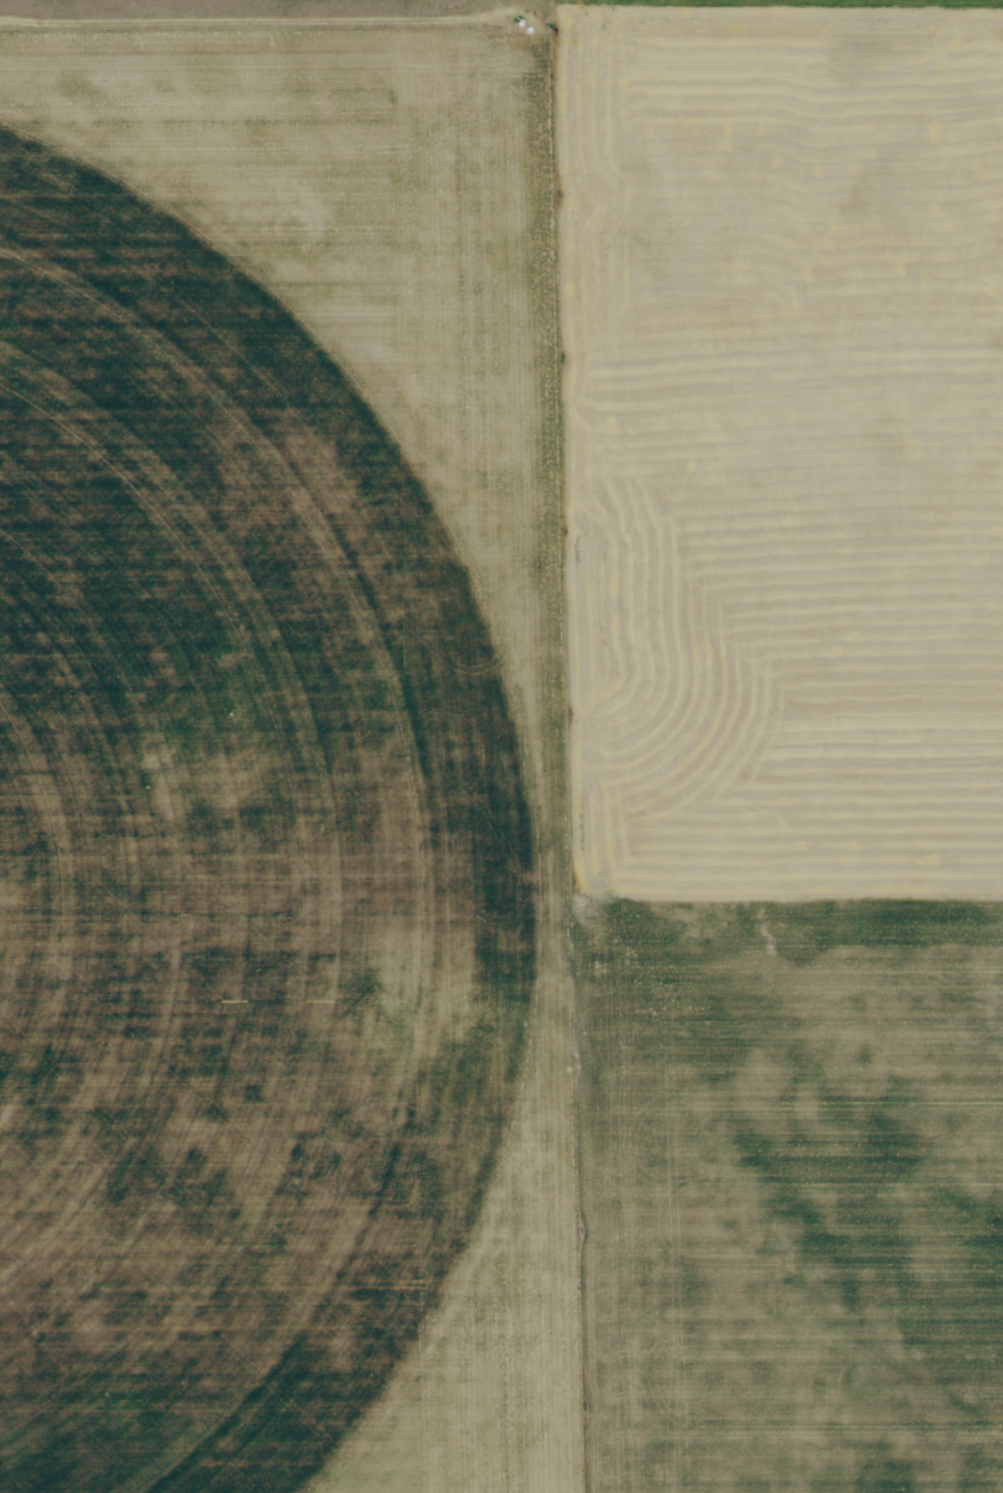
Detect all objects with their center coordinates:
crop: (782, 739)

